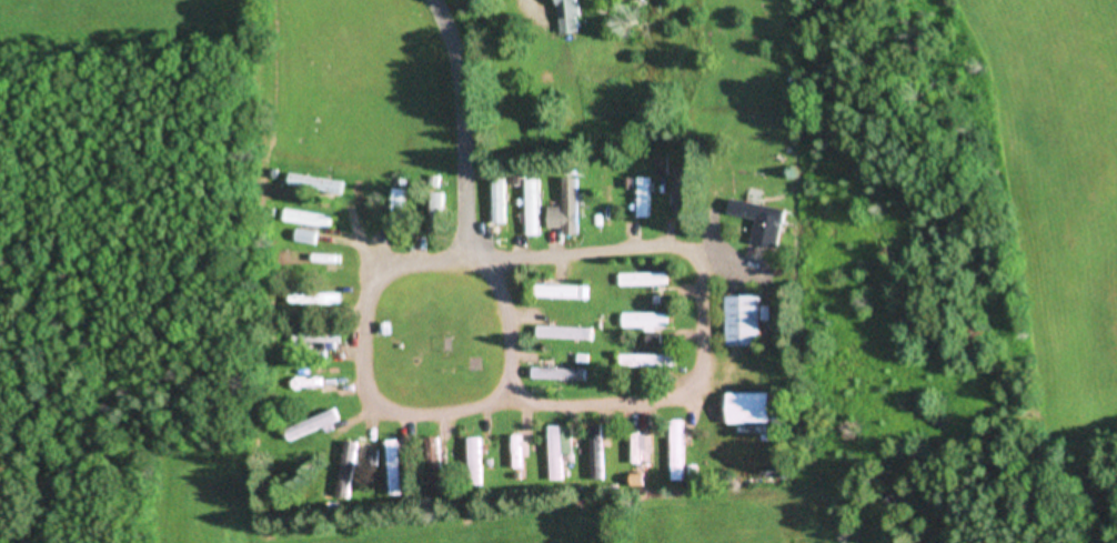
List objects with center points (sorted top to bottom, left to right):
building: (574, 16)
building: (318, 183)
building: (644, 194)
road: (474, 205)
building: (400, 207)
building: (437, 207)
building: (501, 207)
building: (535, 208)
building: (571, 209)
building: (310, 219)
building: (764, 220)
building: (306, 237)
road: (565, 248)
building: (321, 258)
building: (648, 279)
building: (566, 292)
building: (323, 299)
building: (652, 320)
building: (747, 320)
building: (319, 338)
building: (653, 360)
building: (566, 374)
building: (754, 408)
building: (314, 424)
building: (561, 449)
building: (680, 449)
building: (600, 452)
building: (517, 453)
building: (635, 455)
road: (98, 456)
building: (476, 460)
building: (399, 466)
building: (349, 469)
park: (72, 503)

